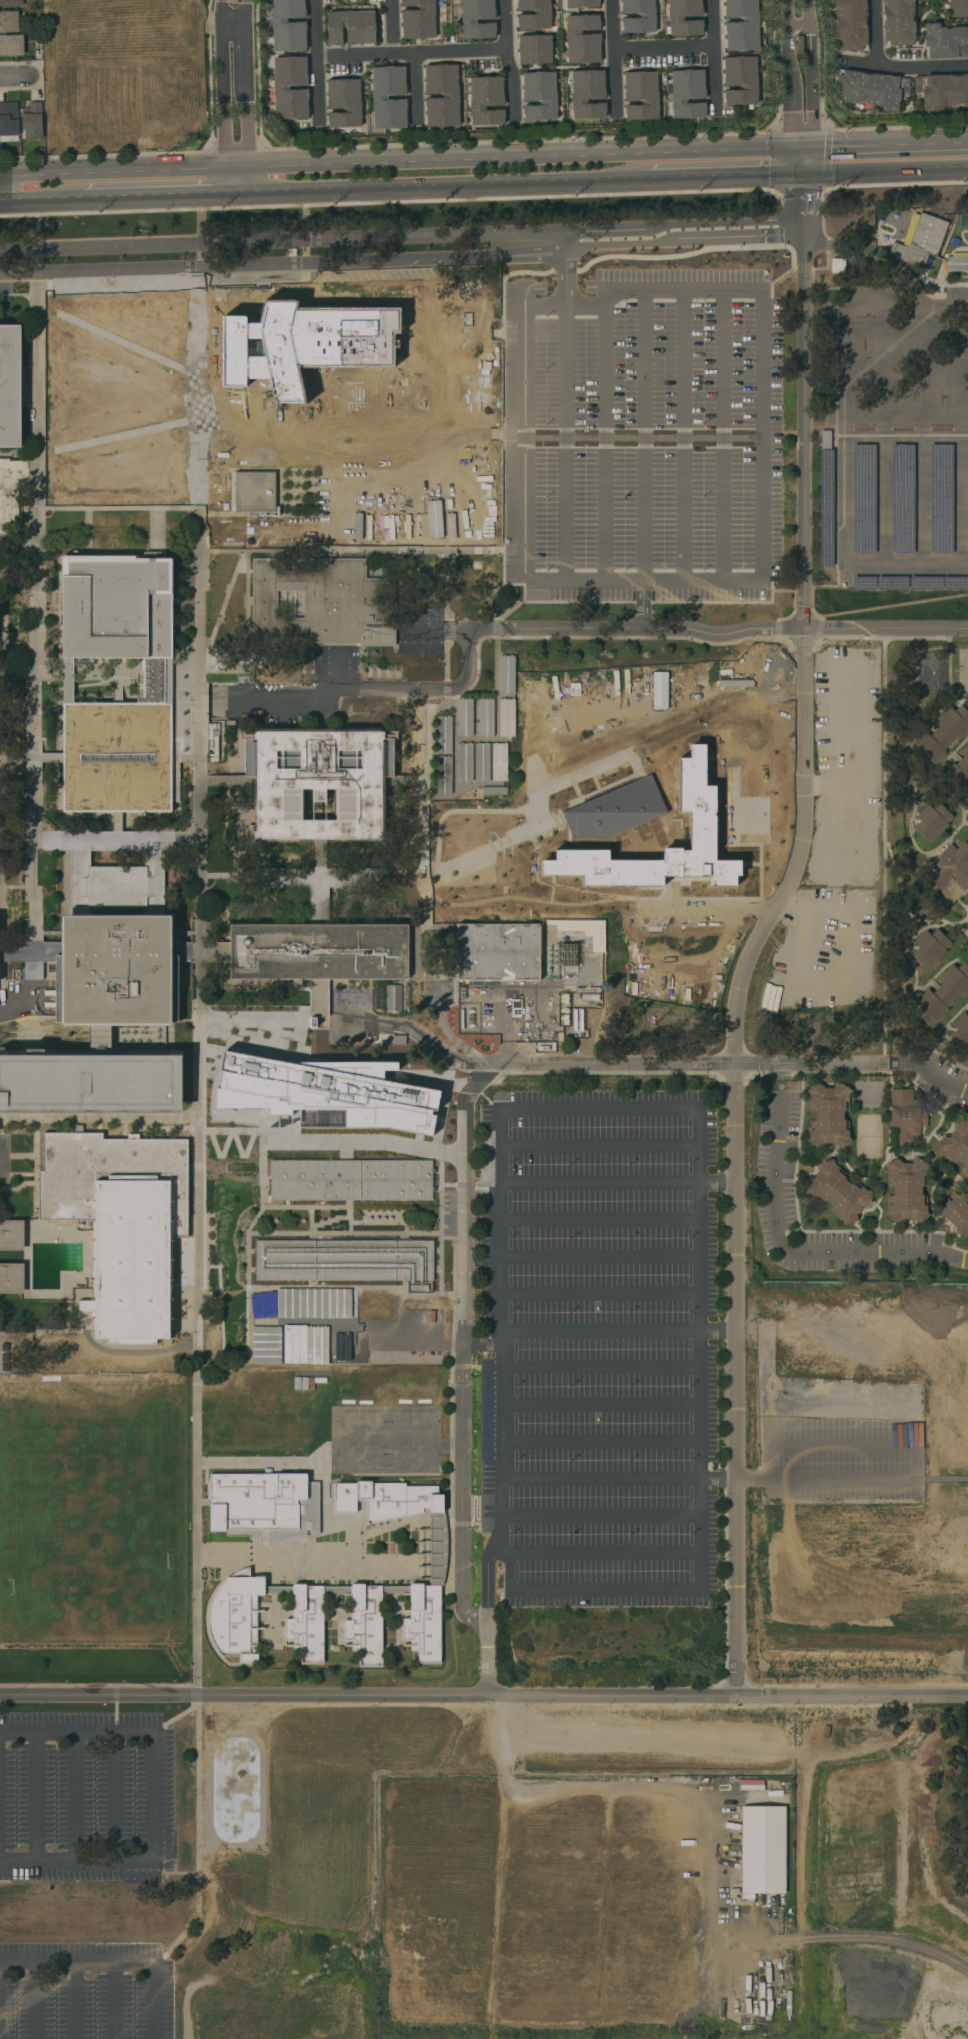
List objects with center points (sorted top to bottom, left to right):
building: (232, 1)
building: (10, 3)
building: (580, 3)
building: (958, 8)
road: (120, 10)
building: (533, 14)
building: (646, 15)
building: (675, 17)
building: (417, 19)
building: (477, 19)
building: (8, 21)
building: (898, 22)
building: (288, 25)
building: (741, 25)
building: (850, 25)
building: (350, 27)
road: (393, 27)
road: (877, 31)
building: (582, 38)
building: (944, 41)
building: (11, 45)
building: (798, 45)
road: (665, 47)
building: (534, 49)
road: (715, 52)
road: (414, 53)
road: (509, 54)
road: (616, 57)
road: (320, 59)
road: (905, 65)
road: (108, 67)
road: (809, 73)
road: (15, 75)
building: (740, 80)
road: (223, 82)
road: (243, 83)
road: (789, 86)
building: (290, 87)
road: (417, 87)
building: (871, 89)
building: (942, 90)
building: (687, 93)
building: (587, 94)
building: (451, 95)
building: (641, 95)
building: (539, 96)
building: (388, 97)
building: (486, 100)
road: (124, 102)
building: (343, 103)
building: (32, 120)
building: (8, 122)
road: (901, 126)
road: (105, 138)
road: (117, 138)
road: (511, 141)
road: (890, 144)
road: (802, 147)
traffic signals: (812, 147)
traffic signals: (792, 148)
road: (519, 157)
road: (807, 159)
road: (112, 162)
road: (236, 166)
road: (885, 168)
road: (112, 170)
traffic signals: (803, 171)
road: (726, 174)
road: (247, 178)
road: (226, 179)
road: (898, 183)
road: (448, 184)
road: (165, 193)
road: (41, 197)
road: (387, 202)
road: (804, 202)
road: (32, 226)
road: (402, 236)
building: (919, 241)
road: (401, 257)
road: (872, 258)
road: (33, 259)
building: (956, 263)
building: (837, 265)
road: (506, 275)
road: (173, 282)
road: (944, 307)
road: (845, 334)
road: (117, 340)
building: (305, 348)
building: (361, 378)
building: (10, 386)
road: (480, 421)
parking lot: (645, 433)
road: (883, 434)
road: (960, 434)
road: (119, 435)
road: (721, 435)
road: (920, 435)
road: (683, 436)
parking lot: (894, 437)
building: (825, 439)
road: (604, 440)
road: (21, 452)
road: (524, 453)
road: (643, 460)
building: (399, 490)
building: (11, 491)
building: (256, 492)
road: (842, 498)
building: (864, 498)
building: (902, 499)
building: (941, 499)
road: (117, 507)
building: (826, 508)
road: (252, 536)
road: (361, 549)
road: (751, 581)
building: (863, 583)
building: (892, 583)
building: (925, 583)
building: (955, 583)
road: (446, 584)
road: (792, 594)
road: (36, 599)
building: (322, 602)
road: (518, 602)
road: (875, 608)
road: (495, 628)
road: (449, 629)
road: (694, 630)
road: (618, 636)
road: (911, 638)
road: (445, 659)
building: (66, 670)
building: (157, 670)
building: (931, 671)
building: (507, 674)
road: (371, 688)
road: (445, 688)
building: (659, 690)
building: (735, 692)
road: (959, 699)
building: (464, 717)
building: (485, 717)
building: (506, 717)
building: (443, 735)
building: (940, 736)
building: (481, 761)
building: (464, 762)
building: (499, 762)
road: (938, 769)
building: (960, 769)
building: (443, 775)
building: (318, 782)
building: (494, 791)
building: (619, 805)
building: (967, 807)
road: (960, 809)
building: (932, 821)
road: (522, 832)
building: (704, 834)
road: (883, 840)
road: (424, 845)
building: (948, 871)
building: (319, 880)
road: (0, 906)
road: (707, 910)
road: (967, 927)
building: (585, 930)
building: (117, 935)
building: (930, 947)
building: (318, 951)
building: (498, 952)
road: (746, 959)
building: (33, 970)
building: (942, 994)
building: (393, 997)
building: (318, 1006)
building: (516, 1008)
road: (19, 1011)
road: (273, 1017)
building: (960, 1031)
road: (942, 1032)
road: (448, 1035)
road: (923, 1055)
road: (947, 1060)
road: (883, 1062)
road: (825, 1063)
road: (531, 1064)
road: (488, 1071)
road: (779, 1071)
road: (603, 1072)
road: (733, 1075)
road: (421, 1080)
road: (941, 1080)
parking lot: (942, 1081)
building: (90, 1084)
road: (480, 1085)
road: (470, 1088)
road: (197, 1094)
building: (324, 1094)
road: (488, 1101)
building: (828, 1115)
building: (906, 1115)
road: (98, 1117)
road: (254, 1117)
road: (205, 1130)
road: (230, 1130)
road: (231, 1130)
road: (249, 1131)
road: (358, 1141)
road: (598, 1145)
building: (957, 1145)
road: (344, 1150)
parking lot: (4, 1156)
parking lot: (773, 1175)
building: (349, 1180)
road: (615, 1182)
road: (448, 1184)
road: (463, 1185)
road: (477, 1185)
building: (906, 1190)
building: (838, 1192)
road: (439, 1194)
road: (463, 1201)
road: (317, 1207)
building: (956, 1212)
road: (597, 1219)
building: (121, 1221)
road: (868, 1230)
road: (343, 1232)
building: (12, 1235)
road: (800, 1241)
road: (959, 1248)
road: (792, 1250)
road: (598, 1256)
building: (344, 1260)
building: (12, 1278)
road: (598, 1293)
road: (246, 1305)
building: (421, 1305)
building: (375, 1307)
road: (616, 1331)
road: (481, 1342)
parking lot: (597, 1348)
road: (599, 1368)
road: (599, 1403)
road: (450, 1408)
road: (599, 1441)
road: (916, 1441)
road: (322, 1464)
road: (617, 1478)
road: (460, 1490)
building: (265, 1504)
park: (92, 1508)
road: (599, 1515)
road: (460, 1523)
road: (603, 1552)
road: (322, 1560)
road: (699, 1585)
building: (343, 1589)
road: (486, 1617)
road: (97, 1685)
road: (484, 1695)
road: (586, 1787)
road: (35, 1796)
road: (74, 1796)
road: (114, 1796)
road: (152, 1796)
building: (763, 1849)
road: (114, 1964)
road: (35, 2001)
road: (75, 2001)
road: (115, 2001)

